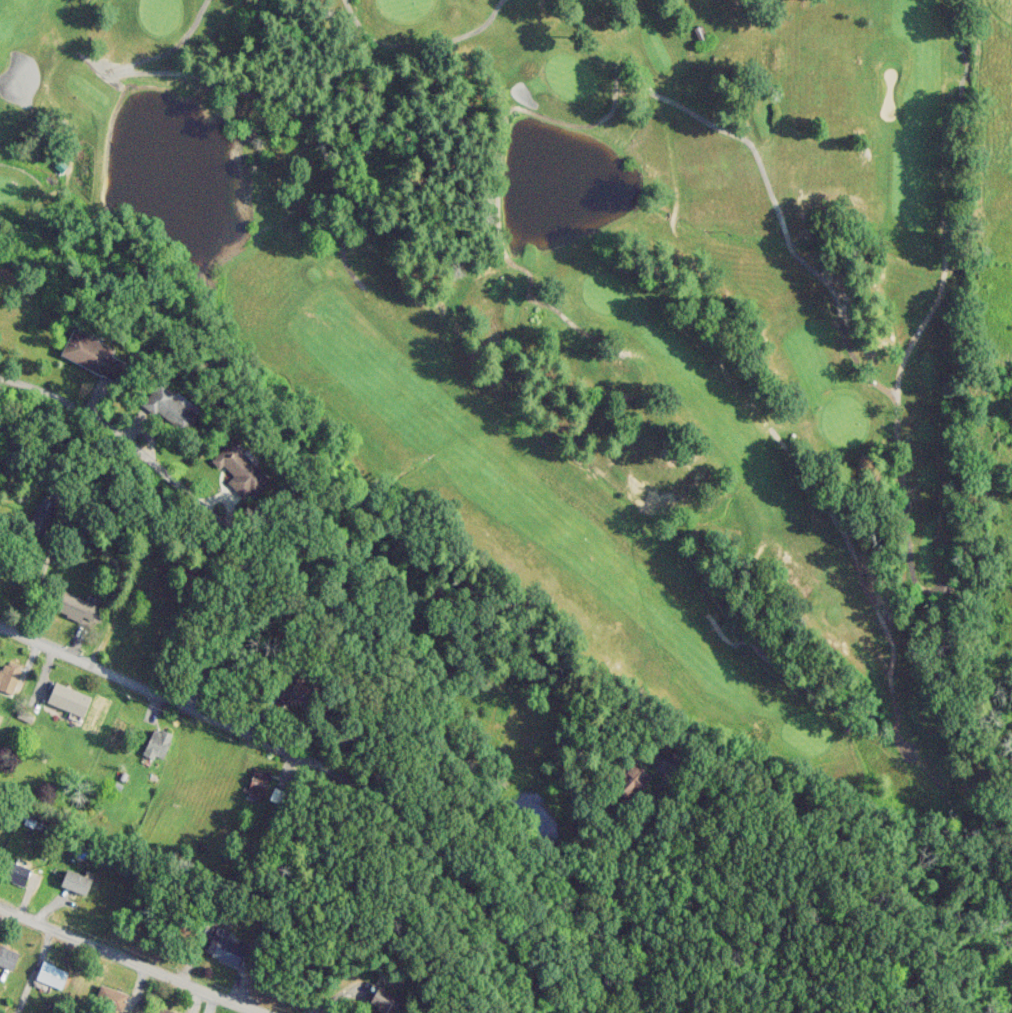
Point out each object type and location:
park: (586, 312)
building: (88, 354)
building: (167, 406)
building: (236, 469)
road: (192, 500)
building: (39, 515)
building: (74, 607)
building: (8, 677)
building: (291, 696)
building: (67, 699)
building: (157, 744)
road: (316, 760)
building: (629, 781)
building: (257, 784)
building: (276, 796)
building: (13, 872)
building: (74, 882)
road: (608, 883)
building: (224, 951)
building: (7, 957)
road: (133, 961)
building: (50, 975)
building: (106, 1001)
building: (380, 1002)
building: (167, 1012)

